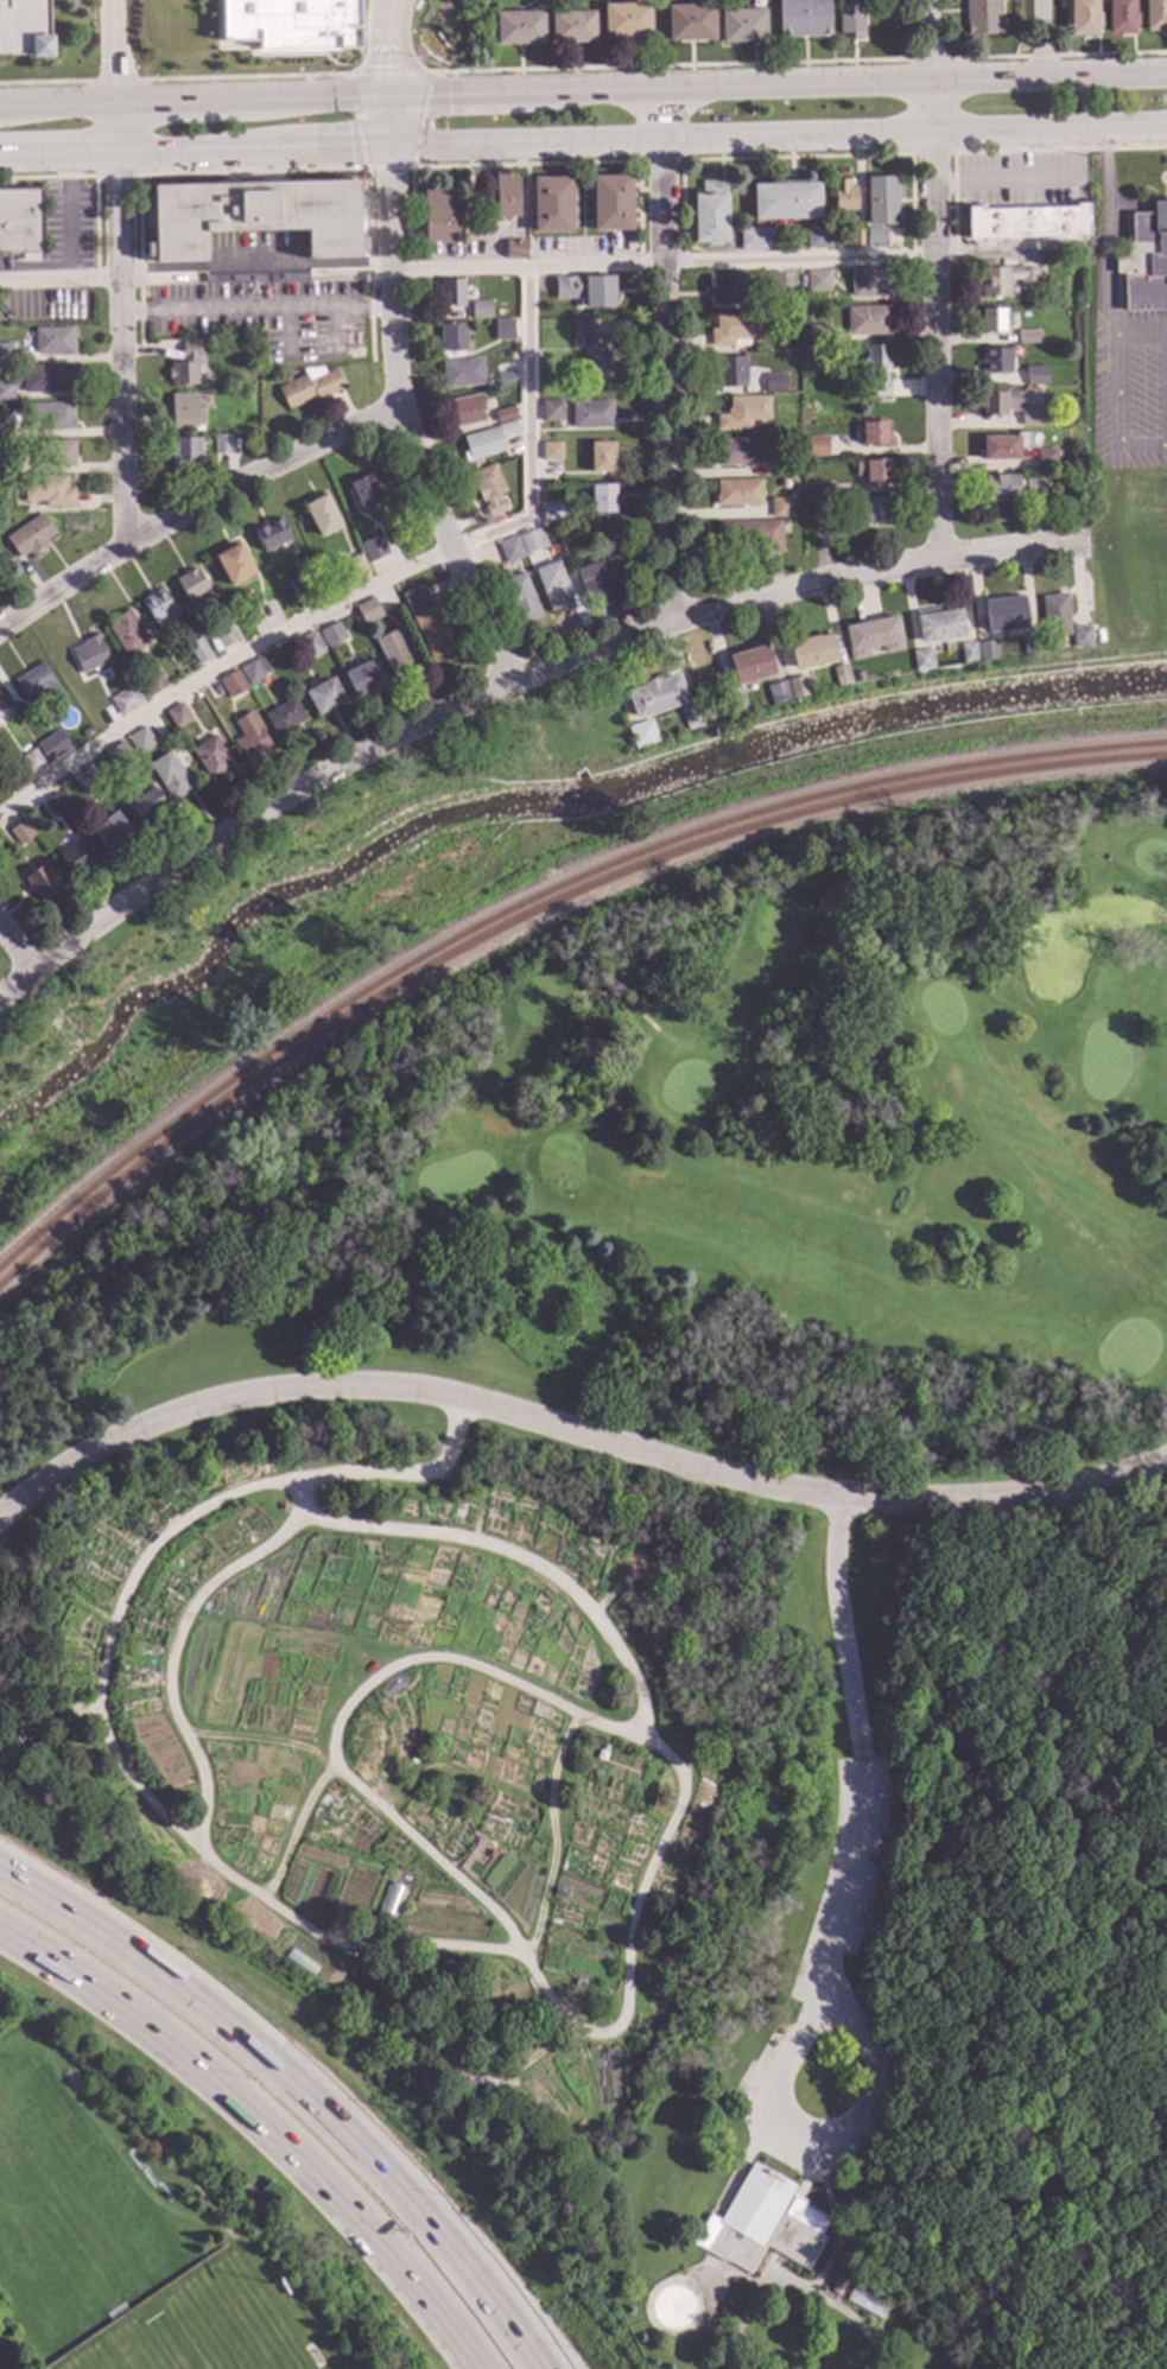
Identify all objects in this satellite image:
building: (1154, 17)
building: (801, 18)
building: (1082, 18)
building: (1118, 18)
building: (982, 19)
building: (624, 21)
building: (849, 23)
building: (290, 24)
building: (689, 24)
building: (742, 27)
building: (24, 28)
parking lot: (24, 28)
building: (571, 28)
building: (518, 30)
road: (1039, 39)
road: (366, 40)
road: (391, 49)
road: (114, 51)
road: (1055, 56)
road: (927, 61)
traffic signals: (392, 66)
road: (671, 68)
road: (413, 74)
road: (243, 78)
road: (114, 82)
road: (45, 83)
road: (583, 93)
traffic signals: (448, 96)
road: (583, 145)
road: (1058, 150)
traffic signals: (350, 153)
road: (932, 153)
road: (795, 157)
road: (659, 161)
road: (526, 164)
road: (249, 172)
road: (115, 176)
road: (49, 177)
road: (1026, 182)
building: (843, 195)
building: (503, 197)
building: (786, 201)
building: (883, 201)
building: (611, 202)
building: (552, 203)
building: (711, 211)
road: (69, 216)
building: (254, 216)
building: (442, 216)
building: (20, 221)
building: (1028, 222)
road: (1103, 233)
building: (818, 236)
building: (876, 236)
building: (857, 237)
building: (757, 239)
building: (515, 249)
building: (1146, 260)
road: (695, 261)
road: (101, 277)
road: (933, 278)
building: (1007, 279)
building: (819, 280)
building: (774, 281)
building: (870, 281)
building: (728, 287)
building: (585, 288)
building: (452, 292)
road: (256, 309)
building: (481, 309)
building: (868, 319)
building: (994, 319)
road: (121, 324)
building: (736, 328)
building: (505, 329)
building: (818, 334)
building: (454, 335)
road: (1139, 335)
building: (1027, 336)
building: (55, 339)
building: (592, 350)
building: (7, 351)
building: (514, 354)
road: (664, 357)
building: (996, 358)
building: (188, 366)
building: (879, 368)
building: (730, 370)
building: (463, 371)
building: (1036, 375)
building: (49, 377)
building: (507, 379)
building: (775, 382)
building: (311, 386)
building: (6, 389)
road: (1165, 390)
road: (395, 404)
building: (994, 404)
building: (468, 409)
building: (552, 409)
building: (743, 411)
building: (186, 412)
building: (505, 413)
building: (592, 413)
building: (51, 415)
building: (1032, 415)
road: (1114, 415)
building: (6, 426)
building: (875, 432)
building: (487, 440)
building: (222, 443)
building: (829, 445)
building: (816, 446)
building: (1004, 446)
building: (552, 451)
building: (59, 452)
building: (185, 452)
building: (737, 452)
building: (602, 455)
building: (1047, 458)
building: (8, 464)
building: (780, 465)
building: (875, 470)
building: (1002, 485)
building: (1035, 487)
building: (490, 488)
building: (822, 489)
building: (49, 490)
building: (364, 491)
building: (738, 491)
building: (603, 497)
building: (781, 506)
building: (820, 507)
road: (192, 508)
building: (875, 509)
building: (552, 513)
building: (322, 515)
building: (31, 534)
building: (271, 534)
building: (750, 534)
building: (532, 540)
building: (374, 546)
building: (512, 550)
building: (235, 564)
building: (355, 567)
building: (603, 577)
building: (304, 583)
building: (192, 584)
building: (553, 584)
road: (366, 588)
building: (521, 597)
building: (158, 603)
building: (369, 610)
building: (1004, 612)
building: (1055, 614)
building: (430, 623)
building: (940, 625)
building: (126, 633)
building: (334, 634)
building: (1083, 635)
building: (873, 636)
building: (223, 637)
building: (1029, 642)
building: (311, 646)
building: (199, 650)
building: (395, 650)
building: (813, 650)
building: (987, 650)
building: (969, 652)
building: (91, 653)
building: (922, 658)
building: (751, 665)
building: (254, 671)
building: (842, 674)
building: (858, 675)
building: (362, 679)
building: (152, 681)
building: (233, 684)
building: (799, 685)
building: (38, 687)
road: (507, 687)
building: (779, 692)
building: (324, 696)
building: (657, 696)
building: (127, 699)
building: (740, 703)
building: (220, 705)
building: (2, 714)
building: (179, 714)
building: (691, 716)
building: (286, 717)
building: (97, 722)
building: (87, 731)
building: (642, 733)
building: (250, 736)
building: (141, 739)
building: (53, 745)
building: (120, 756)
building: (211, 756)
building: (32, 761)
building: (171, 775)
building: (90, 781)
building: (147, 804)
building: (58, 805)
building: (112, 831)
building: (21, 832)
building: (78, 857)
building: (42, 881)
railway: (535, 897)
railway: (534, 912)
park: (310, 925)
road: (17, 948)
park: (803, 1154)
road: (571, 1434)
road: (171, 1656)
road: (345, 1707)
park: (526, 1767)
road: (294, 1829)
road: (552, 1835)
road: (829, 1922)
road: (454, 1948)
road: (1162, 1989)
road: (267, 2121)
road: (243, 2145)
road: (912, 2193)
park: (66, 2198)
road: (829, 2214)
building: (760, 2225)
building: (836, 2286)
road: (753, 2299)
building: (864, 2304)
road: (856, 2324)
park: (201, 2335)
road: (949, 2338)
road: (997, 2352)

